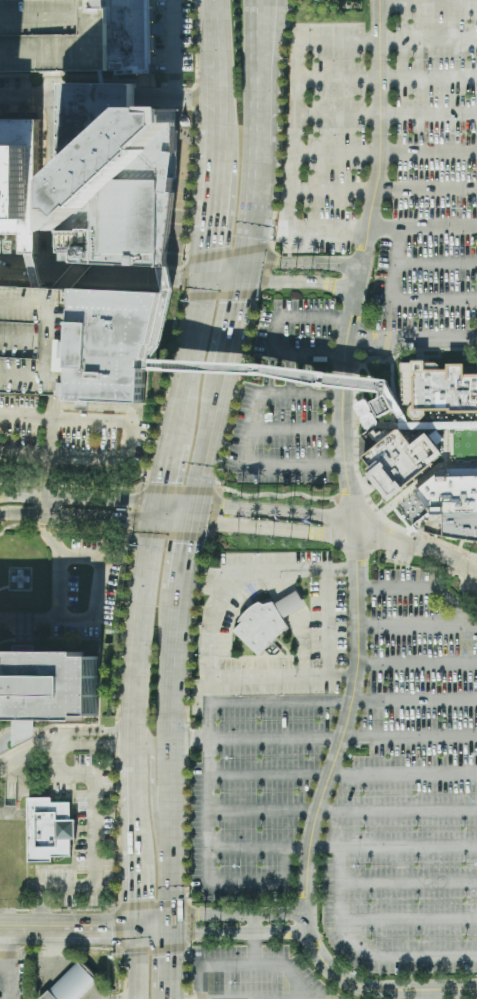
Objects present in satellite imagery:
road: (196, 2)
road: (214, 5)
road: (428, 5)
road: (174, 34)
building: (133, 35)
building: (56, 36)
parking garage: (56, 36)
road: (155, 37)
road: (197, 51)
road: (216, 69)
road: (261, 72)
road: (161, 73)
road: (171, 73)
road: (22, 76)
road: (55, 76)
road: (388, 78)
road: (111, 80)
road: (175, 85)
road: (54, 86)
road: (162, 89)
road: (176, 89)
road: (195, 98)
road: (29, 101)
road: (177, 101)
road: (24, 108)
road: (387, 116)
road: (280, 122)
parking lot: (323, 139)
road: (295, 143)
road: (216, 149)
road: (386, 152)
parking lot: (432, 174)
building: (116, 177)
road: (194, 181)
building: (19, 182)
road: (181, 185)
road: (376, 187)
road: (384, 189)
road: (250, 209)
road: (42, 210)
road: (212, 222)
building: (9, 245)
traffic signals: (211, 248)
road: (228, 253)
traffic signals: (278, 263)
road: (300, 263)
road: (436, 264)
road: (265, 267)
road: (121, 273)
traffic signals: (178, 274)
road: (184, 280)
road: (299, 283)
road: (125, 286)
road: (222, 295)
road: (395, 300)
traffic signals: (236, 303)
road: (232, 320)
road: (251, 324)
road: (388, 333)
road: (276, 335)
road: (193, 336)
building: (37, 338)
parking garage: (37, 338)
road: (411, 340)
building: (113, 343)
road: (413, 349)
road: (325, 376)
road: (392, 379)
building: (437, 390)
building: (390, 393)
road: (51, 399)
road: (58, 400)
parking lot: (286, 400)
building: (383, 406)
road: (99, 407)
road: (355, 410)
road: (296, 429)
road: (227, 432)
road: (207, 434)
road: (129, 435)
road: (247, 440)
road: (50, 451)
road: (167, 458)
building: (393, 469)
road: (39, 477)
road: (48, 479)
road: (146, 479)
traffic signals: (163, 480)
road: (20, 488)
road: (181, 488)
road: (277, 494)
road: (79, 498)
road: (353, 499)
road: (176, 501)
traffic signals: (225, 504)
road: (38, 505)
road: (134, 508)
road: (274, 510)
road: (77, 514)
road: (212, 514)
traffic signals: (127, 517)
building: (459, 517)
road: (172, 519)
road: (17, 525)
road: (271, 530)
road: (413, 533)
road: (132, 535)
road: (171, 537)
traffic signals: (185, 543)
road: (418, 546)
road: (183, 551)
parking lot: (398, 552)
road: (457, 561)
road: (439, 568)
helipad: (21, 579)
road: (60, 585)
road: (98, 585)
parking lot: (249, 585)
road: (281, 585)
road: (4, 587)
road: (425, 587)
road: (222, 595)
building: (292, 605)
road: (292, 605)
parking lot: (327, 618)
road: (329, 623)
road: (417, 626)
building: (264, 627)
road: (7, 628)
road: (123, 630)
road: (192, 631)
road: (25, 634)
road: (24, 635)
road: (20, 638)
road: (7, 640)
road: (138, 642)
road: (302, 642)
road: (416, 663)
road: (282, 675)
building: (48, 686)
road: (99, 698)
road: (343, 700)
road: (94, 731)
road: (322, 737)
road: (8, 738)
road: (116, 738)
road: (187, 739)
road: (95, 744)
road: (27, 747)
road: (57, 757)
road: (333, 757)
road: (169, 763)
road: (342, 773)
road: (151, 774)
road: (73, 780)
road: (80, 791)
parking lot: (251, 792)
parking lot: (409, 792)
road: (56, 796)
road: (74, 801)
road: (342, 810)
road: (132, 818)
building: (49, 829)
road: (82, 829)
road: (91, 829)
road: (186, 833)
road: (94, 845)
road: (342, 845)
road: (75, 859)
road: (118, 865)
road: (55, 866)
road: (81, 872)
road: (208, 873)
road: (408, 880)
road: (75, 884)
road: (133, 897)
road: (152, 904)
road: (42, 909)
road: (15, 910)
road: (41, 911)
road: (237, 914)
road: (408, 920)
road: (191, 925)
traffic signals: (171, 926)
road: (152, 927)
road: (118, 928)
traffic signals: (134, 928)
road: (67, 929)
road: (291, 931)
road: (221, 933)
road: (254, 939)
road: (114, 949)
road: (155, 950)
road: (359, 954)
road: (170, 957)
road: (8, 963)
road: (134, 963)
road: (262, 965)
road: (4, 967)
road: (187, 968)
parking lot: (253, 972)
building: (72, 983)
road: (199, 983)
road: (170, 994)
road: (428, 994)

